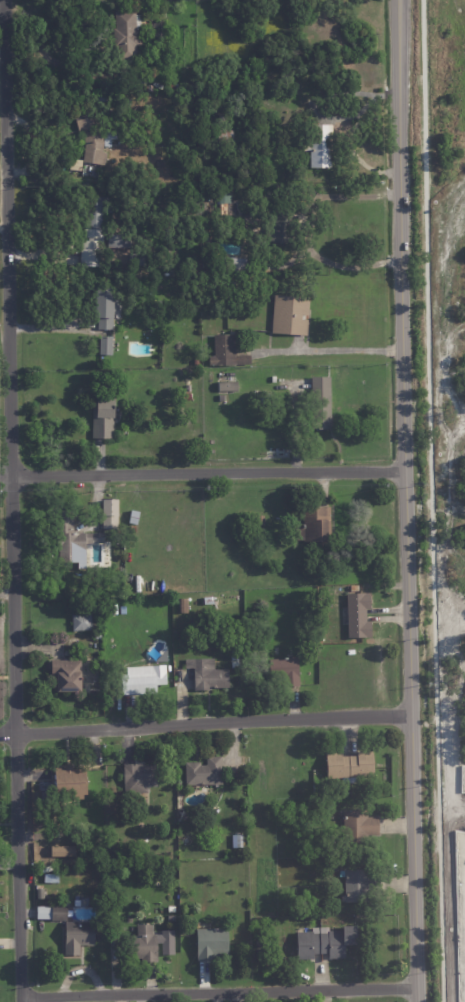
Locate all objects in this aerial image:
building: (128, 35)
road: (43, 45)
building: (138, 79)
building: (104, 96)
building: (92, 135)
building: (110, 137)
building: (228, 139)
building: (322, 144)
building: (76, 164)
building: (214, 191)
building: (226, 204)
building: (281, 228)
road: (300, 230)
building: (100, 237)
building: (140, 260)
building: (236, 264)
building: (193, 305)
building: (108, 307)
building: (293, 313)
road: (331, 341)
building: (106, 345)
building: (227, 352)
building: (196, 362)
building: (274, 379)
building: (228, 385)
building: (187, 397)
building: (322, 400)
building: (104, 416)
road: (202, 465)
road: (407, 500)
road: (13, 501)
road: (432, 501)
building: (111, 514)
building: (134, 517)
building: (261, 520)
building: (315, 524)
building: (133, 529)
building: (74, 541)
building: (209, 602)
building: (183, 605)
building: (114, 610)
building: (358, 614)
building: (82, 623)
building: (98, 635)
building: (234, 658)
building: (235, 664)
building: (286, 669)
building: (208, 675)
building: (67, 676)
building: (143, 680)
road: (206, 716)
building: (350, 764)
building: (205, 771)
building: (237, 773)
building: (256, 773)
building: (140, 776)
building: (70, 782)
building: (239, 784)
building: (117, 803)
building: (359, 827)
building: (235, 840)
building: (349, 852)
building: (112, 866)
building: (49, 877)
building: (360, 884)
building: (39, 893)
building: (59, 912)
building: (172, 918)
building: (78, 936)
building: (326, 941)
building: (212, 943)
building: (144, 944)
building: (260, 952)
road: (222, 984)

